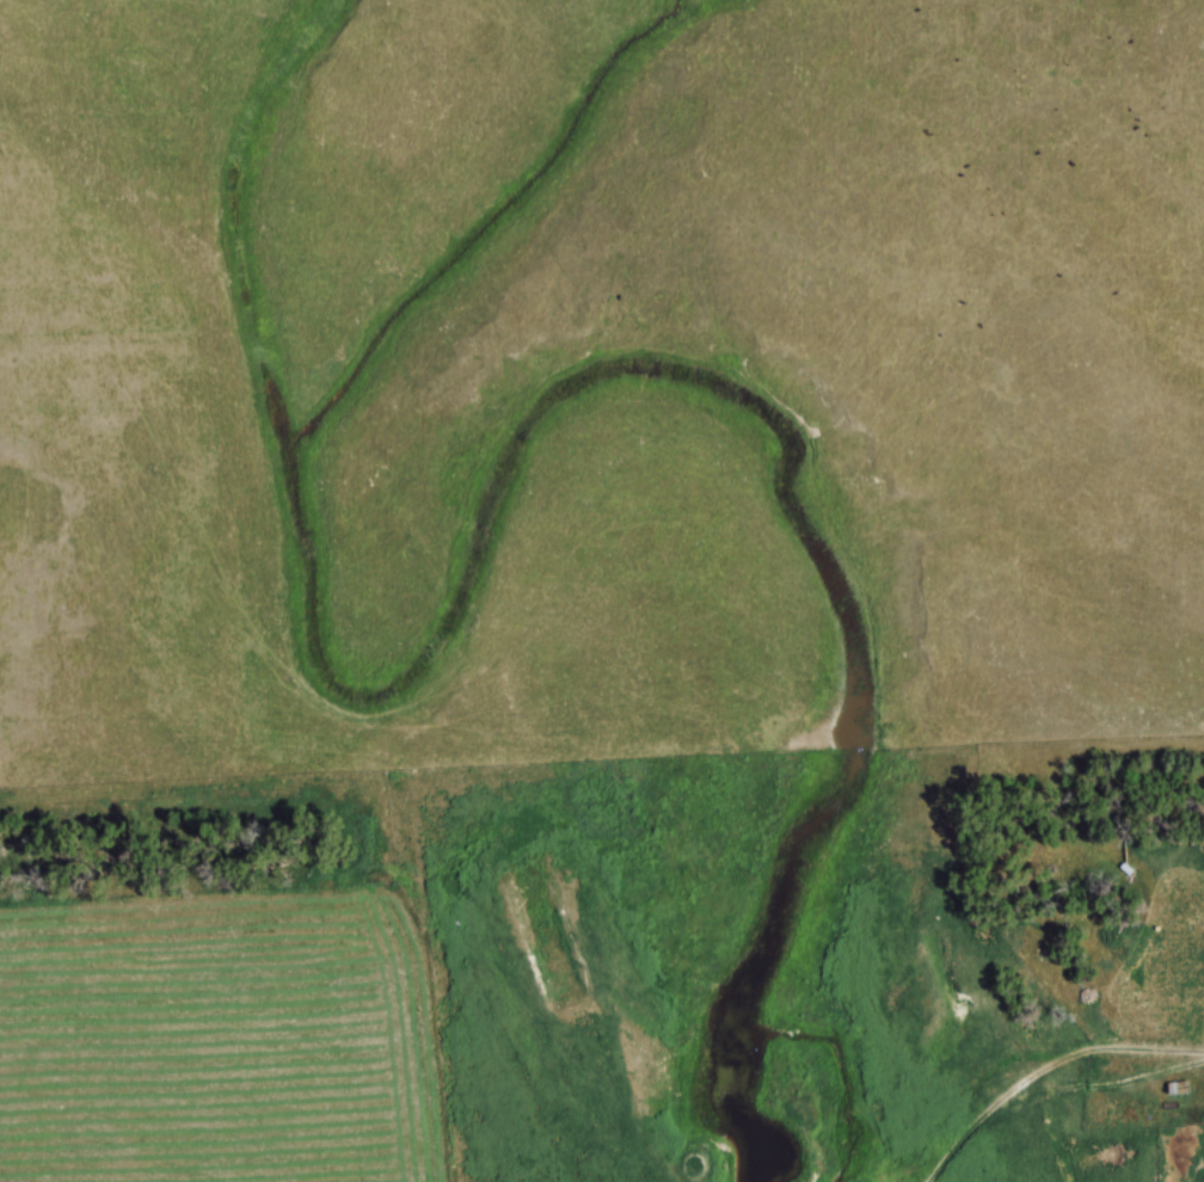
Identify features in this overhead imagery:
road: (1185, 1047)

